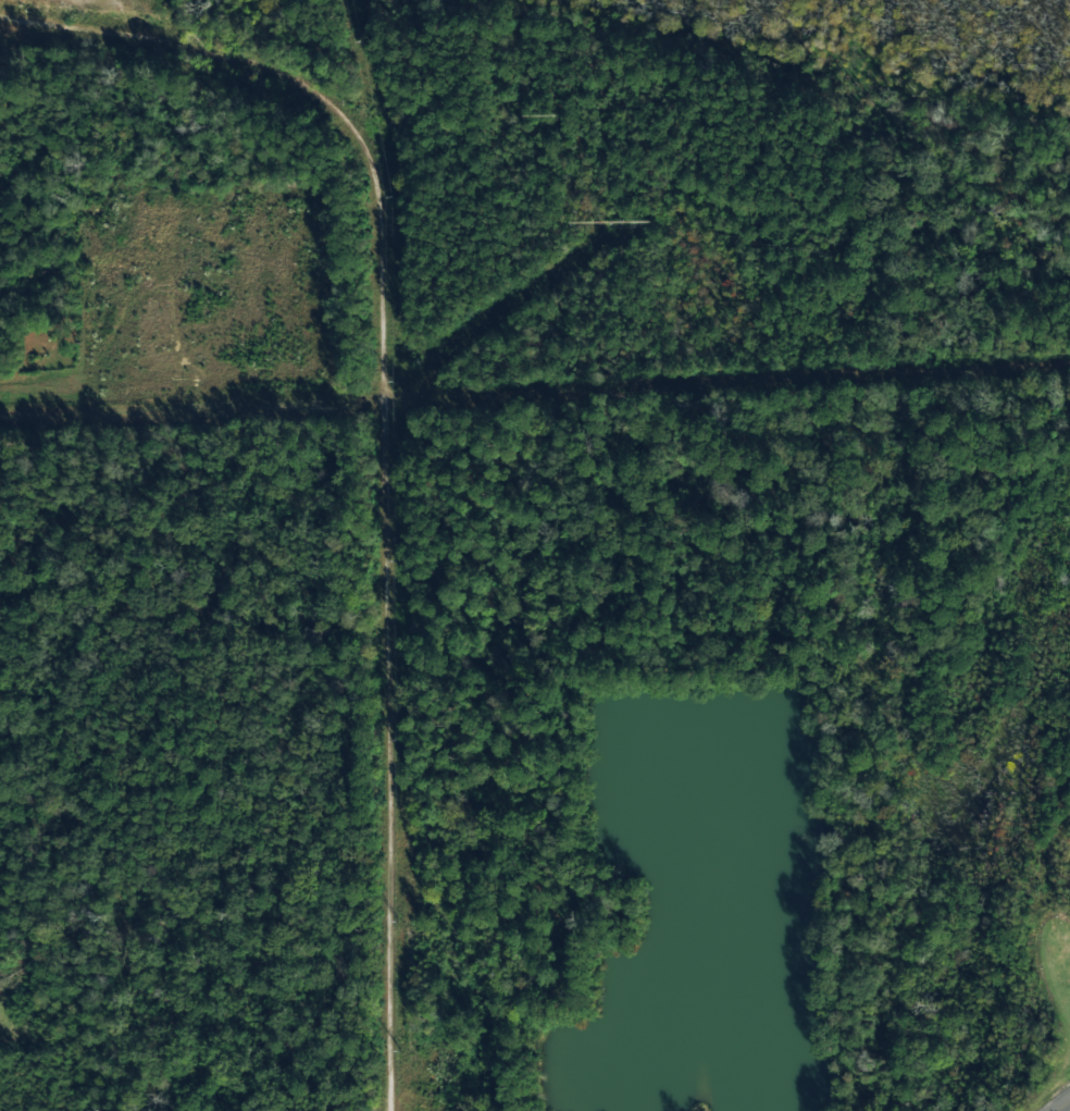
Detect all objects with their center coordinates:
road: (1062, 1106)

